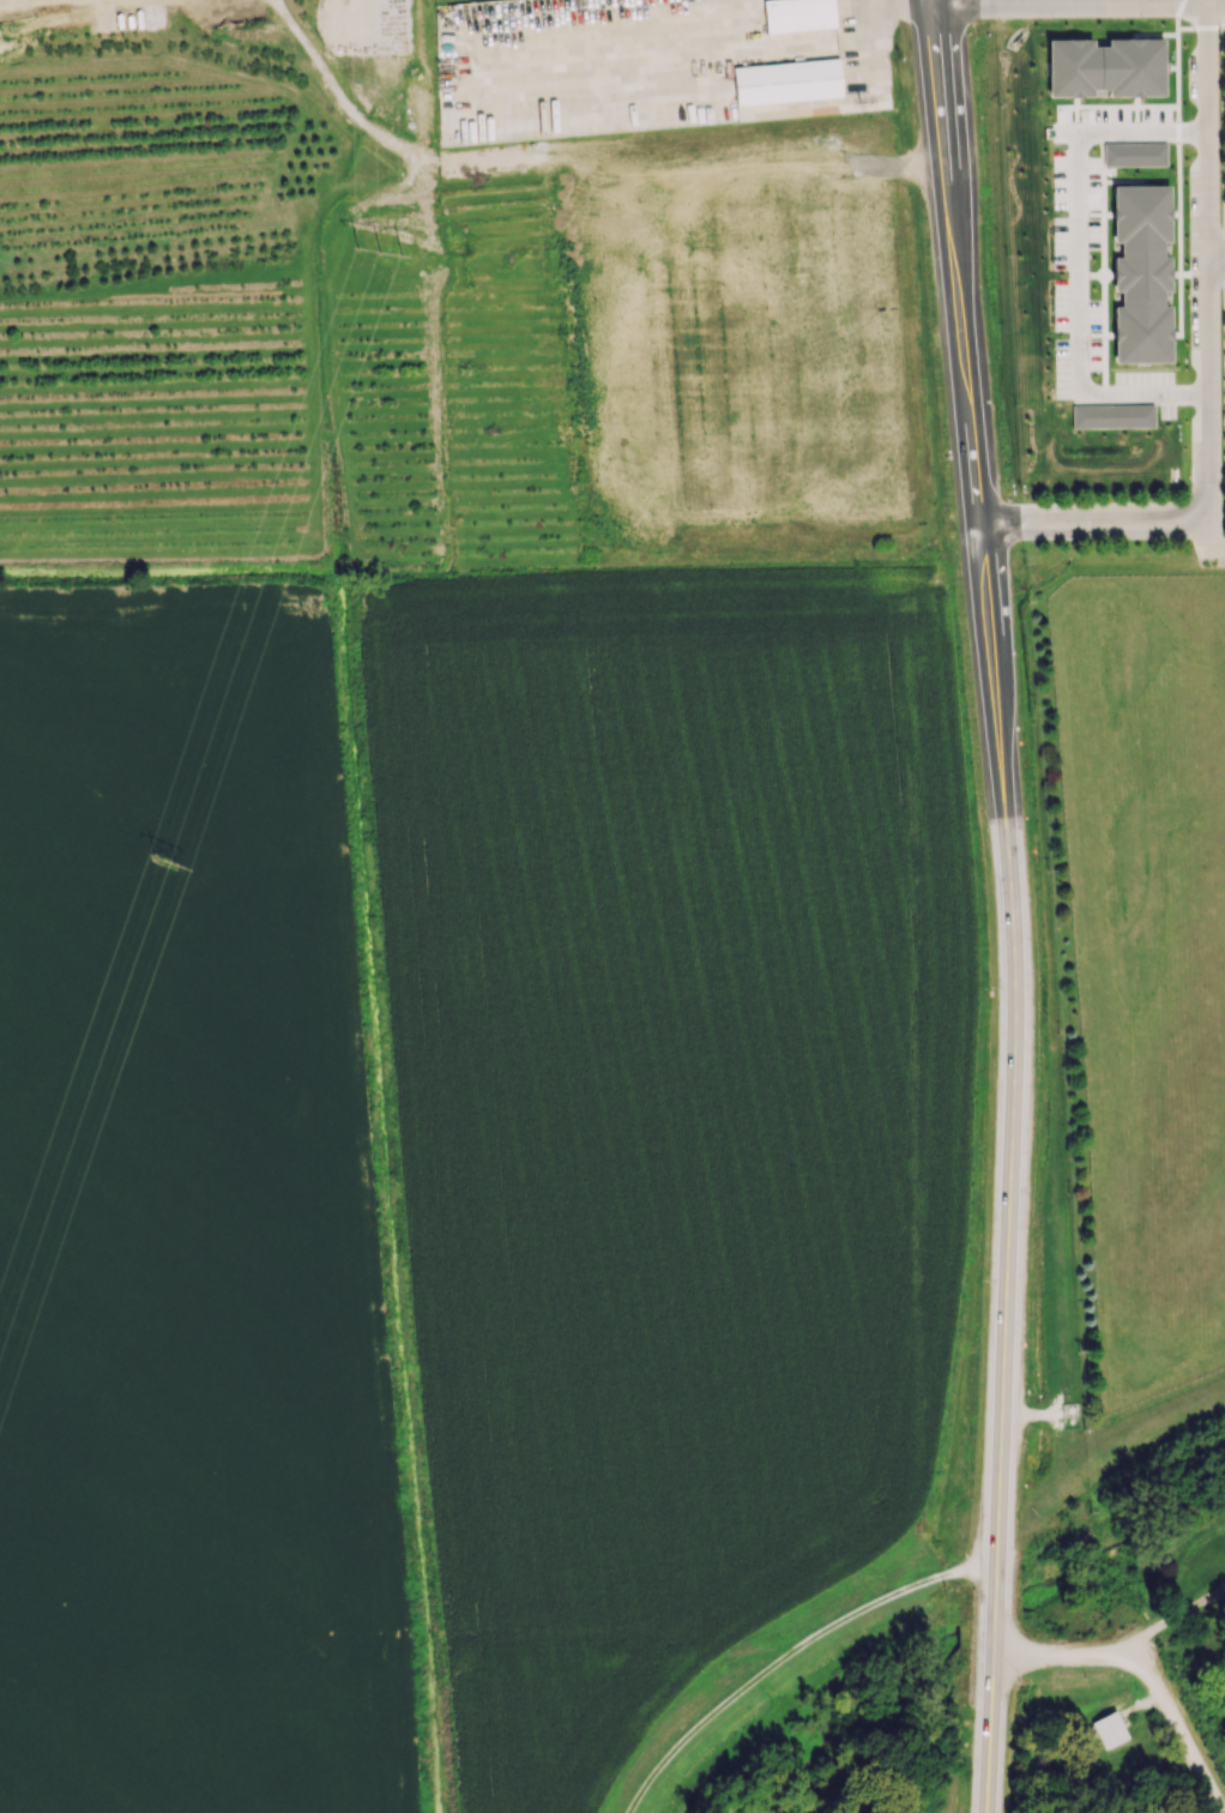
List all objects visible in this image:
road: (931, 2)
road: (933, 2)
road: (1079, 2)
road: (895, 8)
building: (797, 14)
road: (802, 46)
building: (1105, 67)
building: (785, 82)
building: (1134, 153)
power tower: (379, 248)
road: (1214, 259)
road: (1205, 260)
road: (1076, 263)
building: (1140, 273)
road: (962, 361)
building: (1111, 415)
road: (1092, 520)
road: (1213, 536)
power tower: (162, 859)
road: (1007, 1264)
road: (1172, 1624)
road: (789, 1652)
road: (1147, 1674)
building: (1108, 1729)

